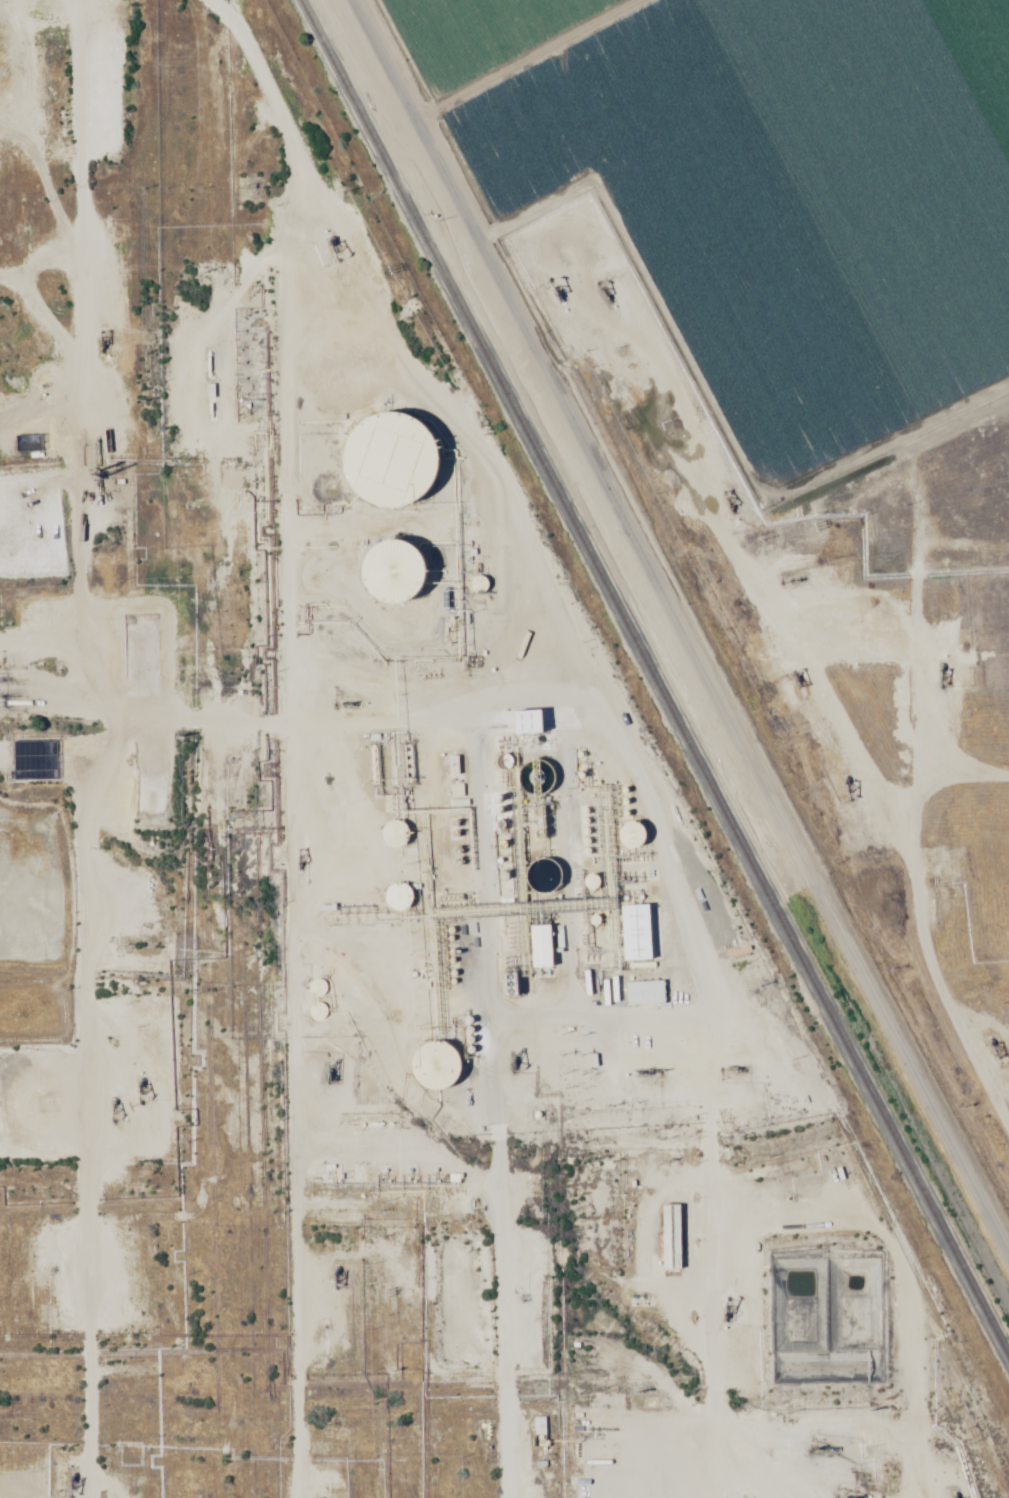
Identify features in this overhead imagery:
road: (979, 35)
road: (552, 57)
crop: (752, 179)
building: (390, 463)
road: (412, 519)
building: (393, 589)
road: (921, 597)
road: (684, 630)
railway: (651, 681)
building: (509, 724)
road: (284, 732)
road: (80, 748)
road: (887, 787)
building: (457, 793)
road: (603, 847)
building: (633, 934)
building: (538, 948)
building: (644, 994)
road: (488, 1121)
building: (670, 1239)
road: (814, 1274)

